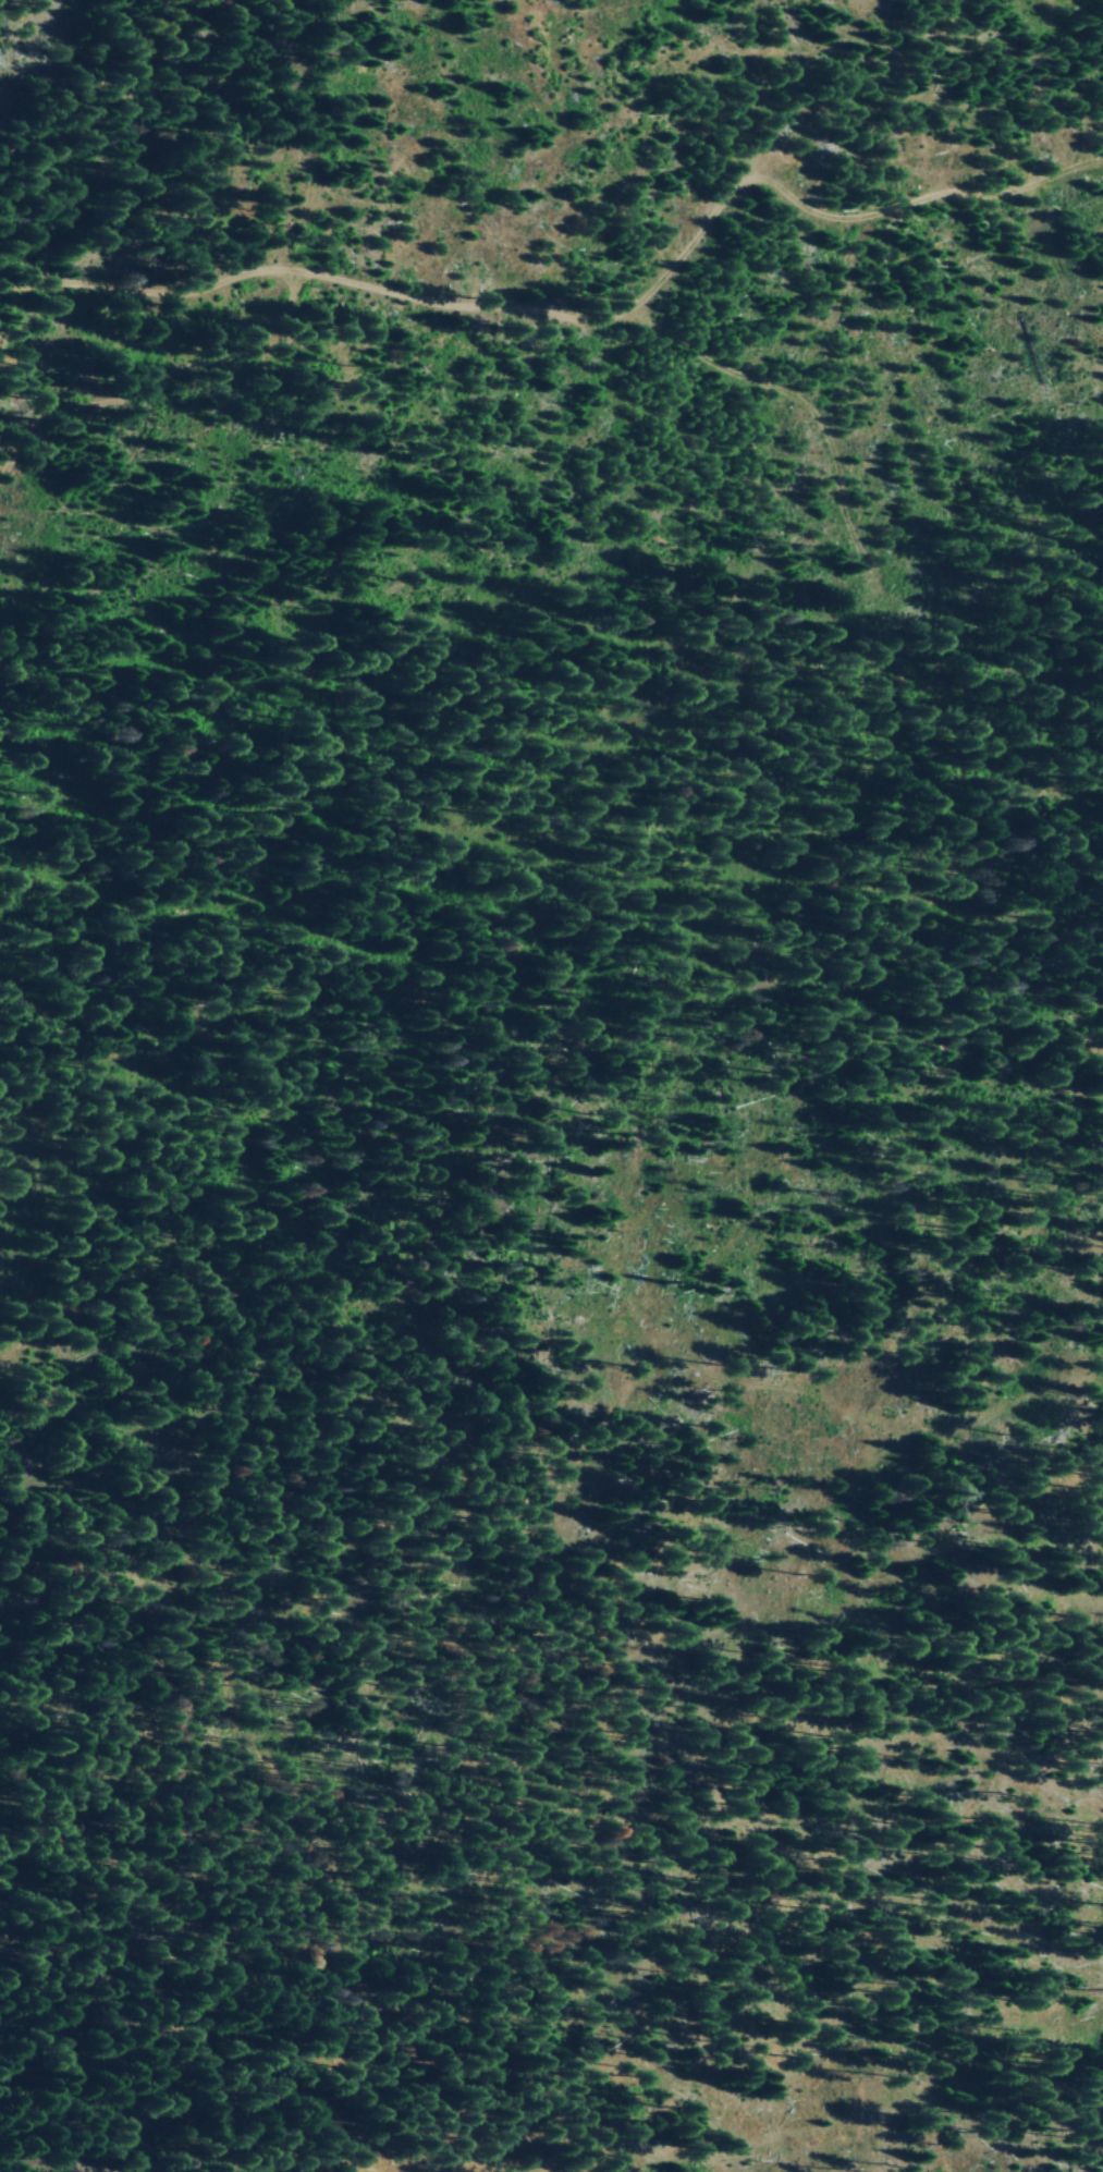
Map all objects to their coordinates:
road: (563, 314)
road: (163, 378)
road: (802, 399)
road: (273, 1766)
road: (32, 2160)

